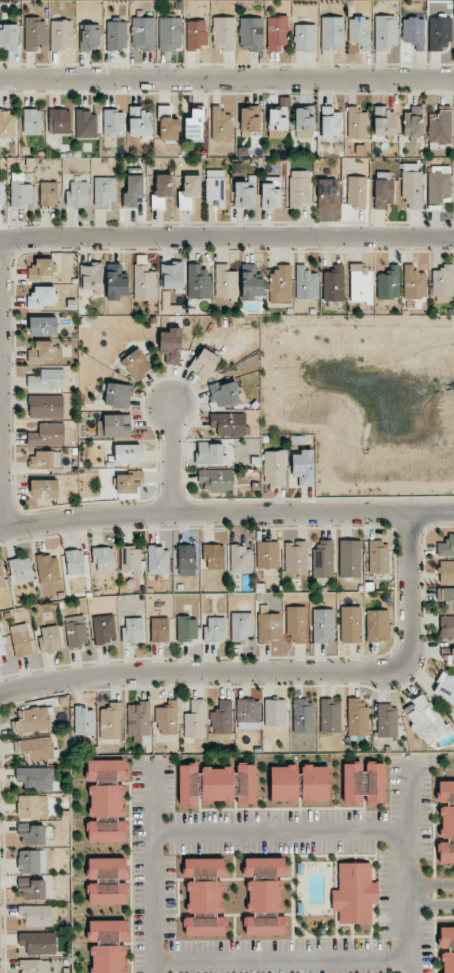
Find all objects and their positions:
building: (359, 32)
building: (385, 32)
building: (413, 32)
building: (34, 33)
building: (143, 33)
building: (170, 33)
building: (223, 33)
building: (277, 33)
building: (332, 33)
building: (439, 33)
building: (196, 34)
building: (250, 34)
building: (61, 35)
building: (116, 35)
building: (9, 37)
building: (90, 37)
building: (304, 37)
road: (227, 79)
building: (249, 120)
building: (32, 121)
building: (59, 121)
building: (113, 122)
building: (139, 122)
building: (304, 122)
building: (330, 122)
building: (357, 122)
building: (384, 122)
building: (277, 123)
building: (412, 123)
building: (7, 124)
building: (167, 124)
building: (86, 125)
building: (194, 125)
building: (221, 125)
building: (440, 128)
building: (411, 184)
building: (439, 185)
building: (215, 186)
building: (299, 188)
building: (161, 189)
building: (104, 190)
building: (20, 191)
building: (132, 191)
building: (189, 191)
building: (271, 192)
building: (326, 192)
building: (356, 192)
building: (383, 192)
building: (244, 193)
building: (49, 194)
building: (77, 194)
building: (2, 195)
road: (226, 236)
building: (40, 269)
building: (91, 276)
building: (173, 276)
building: (116, 281)
building: (442, 281)
building: (198, 282)
building: (225, 282)
building: (250, 282)
building: (144, 283)
building: (306, 283)
building: (360, 283)
building: (388, 283)
building: (414, 283)
building: (280, 284)
building: (333, 284)
building: (43, 297)
building: (43, 326)
building: (170, 345)
building: (41, 351)
building: (204, 363)
building: (136, 364)
building: (47, 380)
road: (1, 385)
building: (224, 393)
building: (118, 395)
building: (45, 406)
building: (228, 423)
building: (114, 426)
building: (47, 434)
building: (128, 453)
building: (209, 453)
road: (172, 459)
building: (44, 460)
building: (274, 467)
building: (303, 467)
building: (216, 480)
building: (129, 482)
building: (44, 489)
road: (226, 514)
building: (446, 547)
building: (267, 555)
building: (214, 556)
building: (295, 557)
building: (378, 557)
building: (103, 558)
building: (350, 558)
building: (240, 559)
building: (130, 560)
building: (158, 560)
building: (186, 560)
building: (323, 560)
building: (74, 562)
building: (47, 568)
building: (20, 570)
building: (446, 572)
building: (2, 577)
building: (446, 596)
building: (350, 624)
building: (241, 625)
building: (296, 625)
building: (323, 625)
building: (377, 625)
building: (269, 627)
building: (446, 627)
building: (186, 629)
building: (103, 630)
building: (133, 630)
building: (159, 630)
building: (215, 630)
building: (76, 631)
building: (22, 639)
building: (50, 639)
building: (2, 648)
building: (453, 656)
road: (278, 673)
building: (445, 688)
building: (274, 712)
building: (247, 714)
building: (330, 715)
building: (302, 716)
building: (166, 717)
building: (221, 718)
building: (357, 718)
building: (138, 719)
building: (195, 719)
building: (32, 720)
building: (386, 720)
building: (425, 720)
building: (84, 721)
building: (110, 721)
building: (36, 749)
building: (37, 778)
building: (283, 783)
building: (314, 783)
building: (352, 783)
building: (375, 783)
building: (188, 784)
building: (217, 784)
building: (246, 784)
building: (106, 800)
building: (32, 806)
building: (446, 808)
building: (106, 832)
road: (282, 832)
building: (31, 834)
building: (446, 852)
building: (32, 861)
road: (154, 865)
road: (410, 865)
building: (264, 867)
building: (204, 868)
building: (107, 870)
road: (432, 884)
building: (32, 889)
building: (354, 893)
building: (107, 894)
building: (204, 896)
building: (264, 896)
road: (432, 905)
building: (36, 915)
building: (204, 926)
building: (264, 926)
building: (38, 942)
building: (446, 948)
building: (108, 959)
road: (283, 961)
building: (30, 966)

